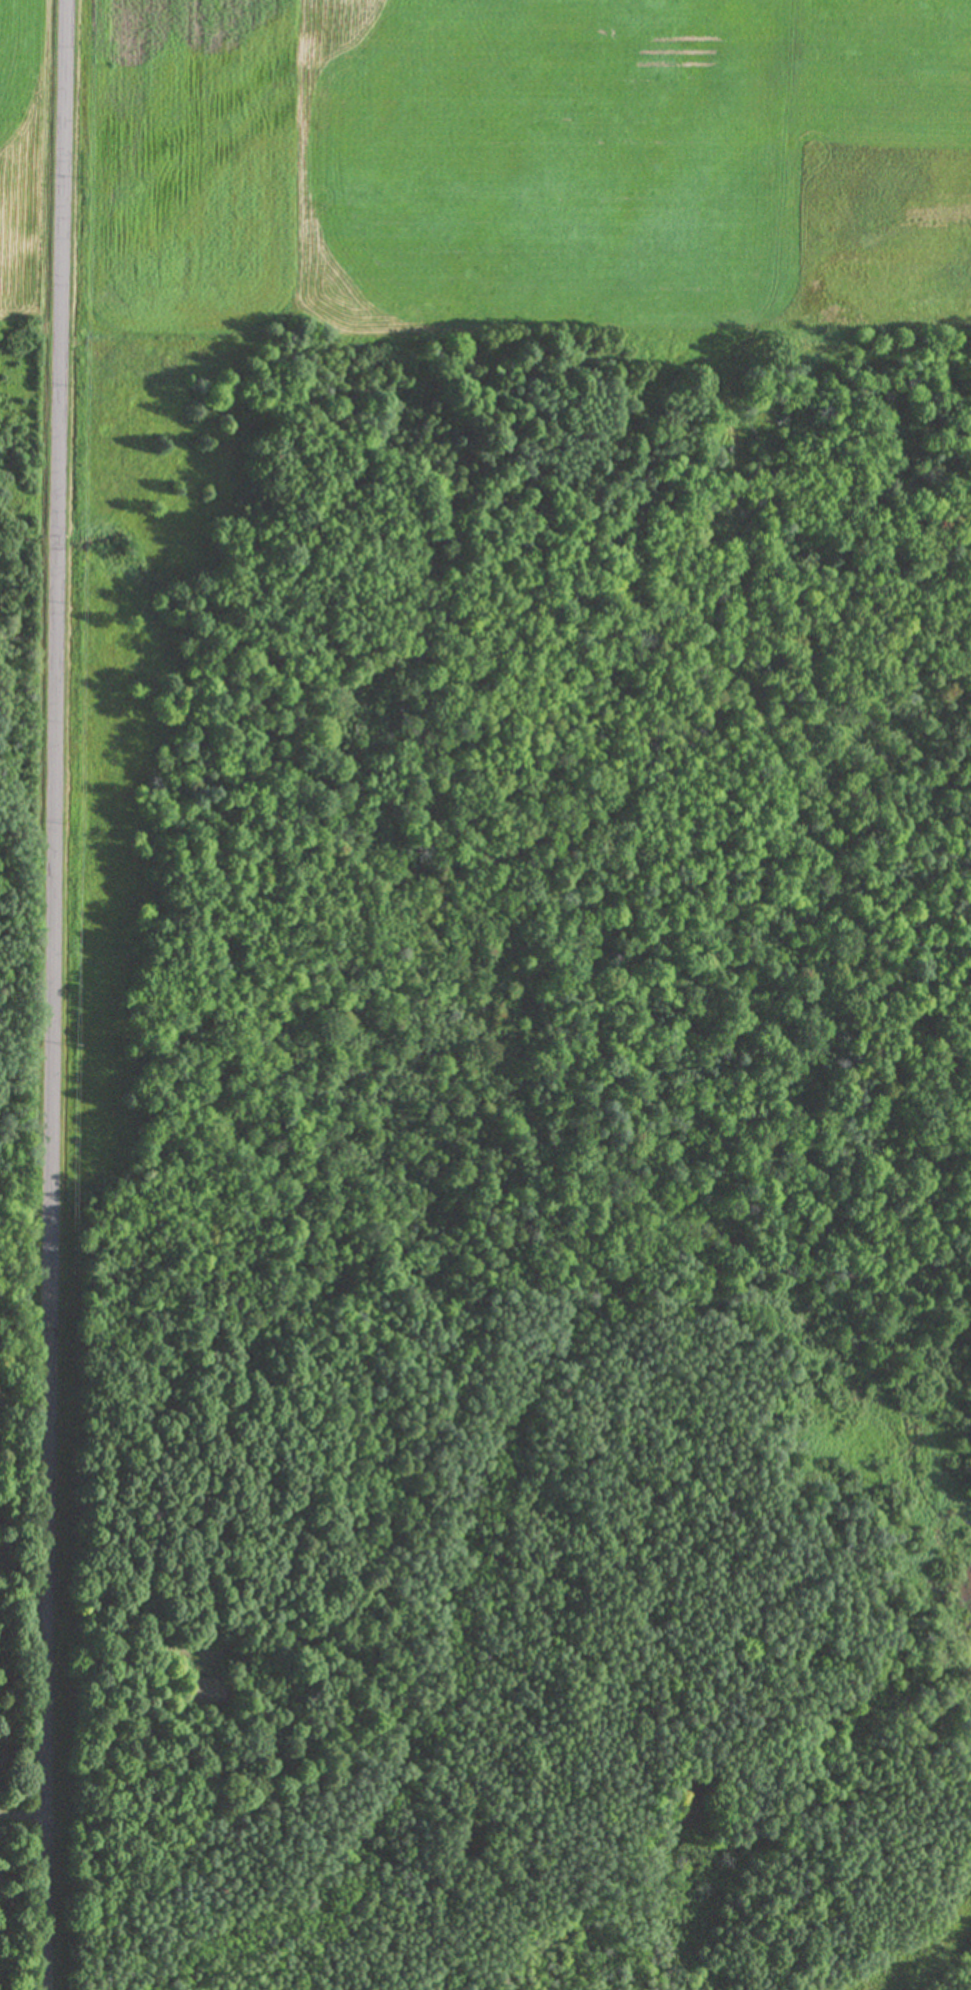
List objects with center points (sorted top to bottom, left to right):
crop: (523, 171)
crop: (27, 218)
road: (53, 994)

